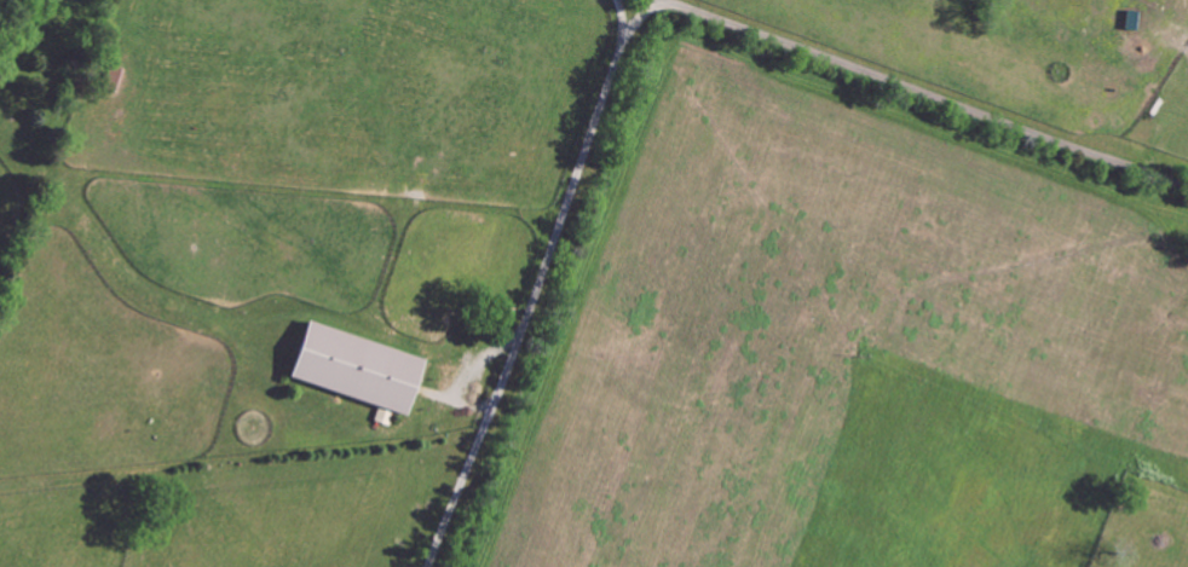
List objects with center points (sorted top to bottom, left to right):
road: (927, 93)
road: (537, 284)
building: (358, 370)

